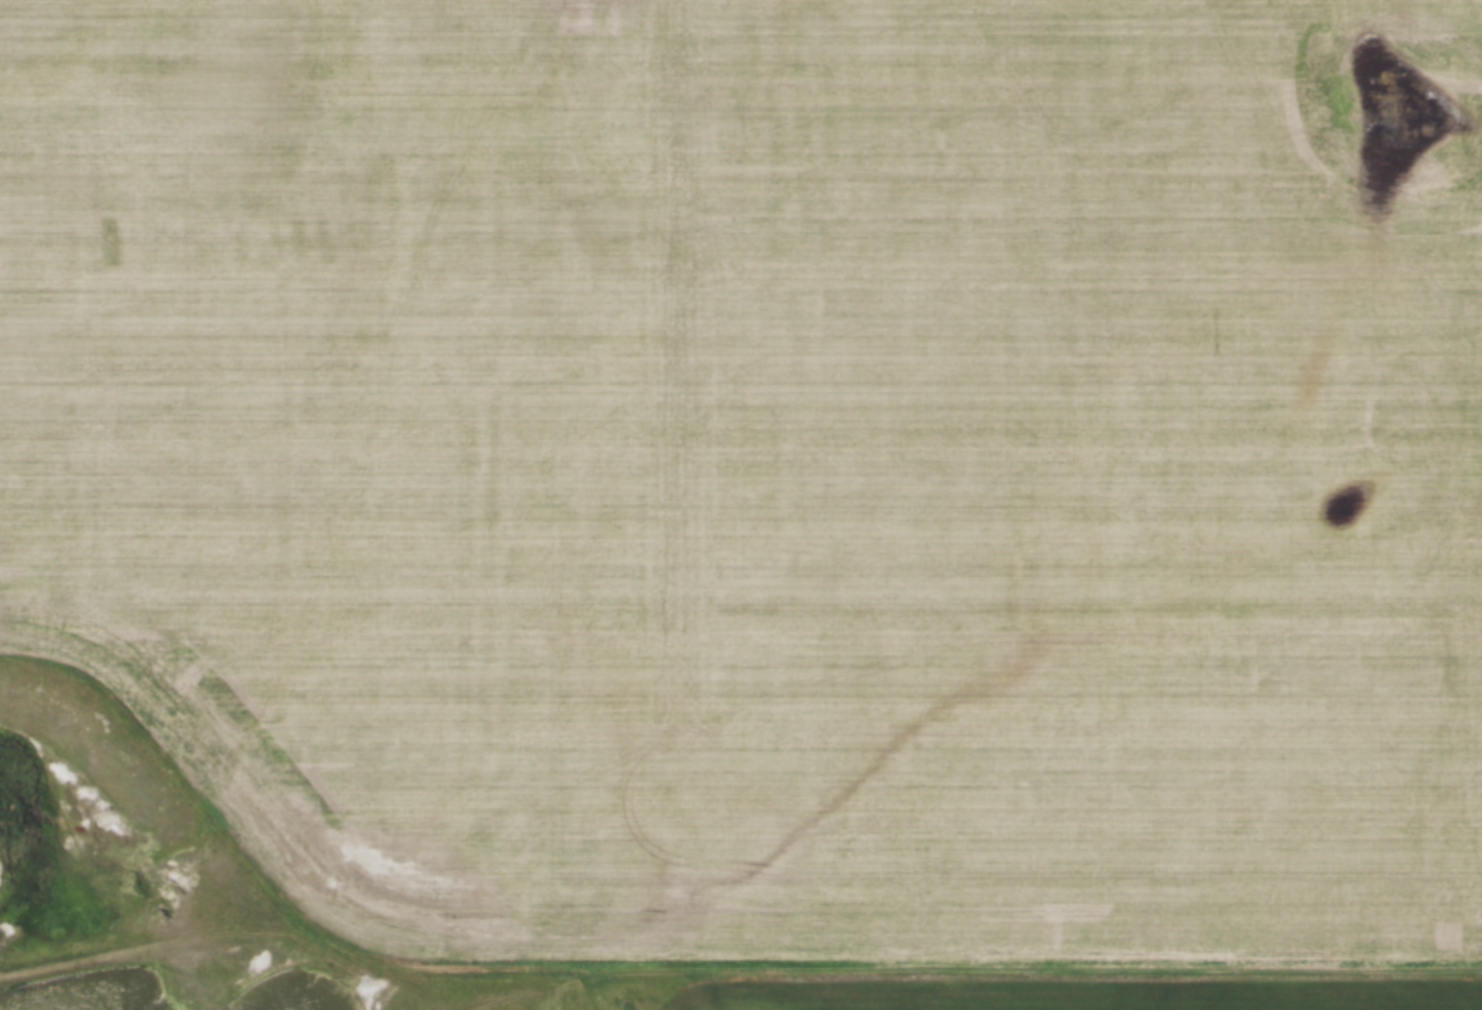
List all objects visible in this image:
dam: (93, 951)
road: (675, 960)

